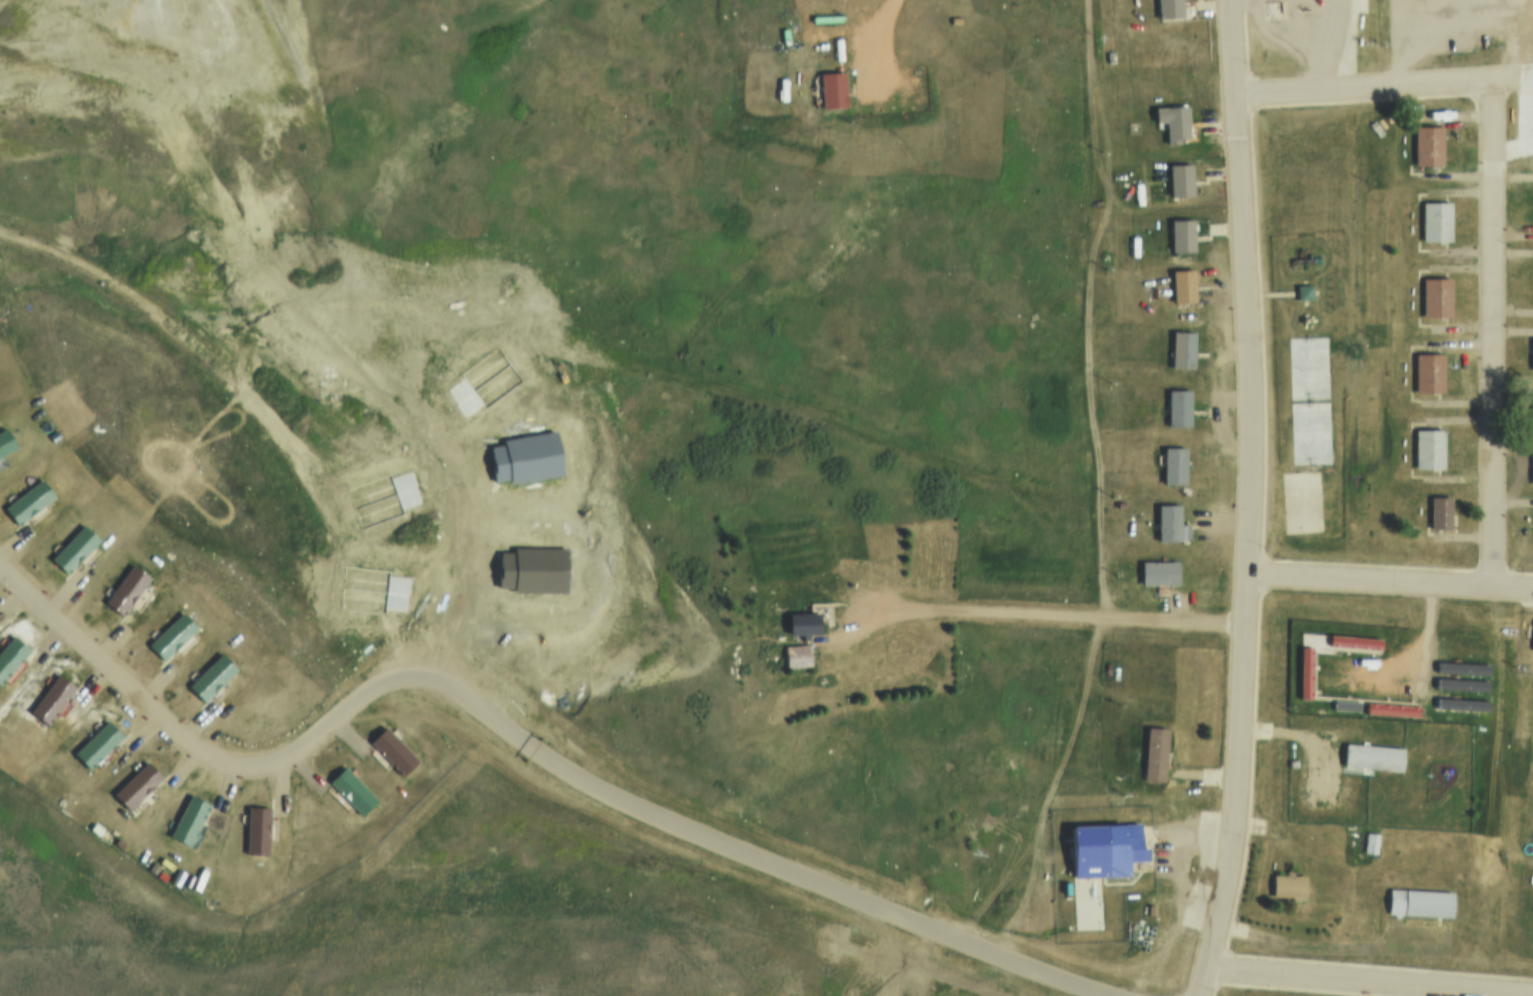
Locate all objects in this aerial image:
building: (1166, 10)
building: (830, 91)
building: (1171, 121)
building: (1426, 146)
building: (1179, 179)
road: (1493, 202)
building: (1433, 222)
building: (1180, 235)
building: (1181, 284)
road: (1241, 287)
building: (1302, 292)
building: (1433, 297)
road: (1085, 312)
park: (1328, 324)
building: (1181, 348)
building: (1530, 357)
road: (619, 368)
building: (1426, 373)
building: (487, 374)
building: (1177, 405)
building: (1530, 413)
building: (4, 442)
building: (1426, 449)
building: (524, 455)
building: (1173, 464)
building: (1530, 471)
building: (382, 494)
park: (1301, 496)
building: (27, 500)
building: (1437, 513)
building: (1169, 521)
building: (73, 549)
building: (532, 567)
building: (1158, 569)
road: (1390, 581)
building: (372, 588)
building: (125, 589)
road: (1027, 617)
building: (171, 634)
building: (802, 642)
building: (1352, 642)
building: (1532, 645)
building: (10, 654)
building: (1302, 673)
building: (1459, 674)
building: (211, 675)
building: (1451, 694)
building: (49, 700)
building: (1344, 703)
building: (1458, 704)
building: (1389, 709)
road: (528, 739)
building: (95, 746)
building: (392, 750)
building: (1153, 751)
building: (1370, 757)
building: (135, 785)
road: (1238, 788)
building: (352, 792)
building: (187, 820)
building: (254, 830)
road: (1274, 837)
building: (1368, 843)
building: (1101, 850)
building: (1286, 885)
building: (1061, 888)
building: (1417, 903)
building: (1149, 907)
road: (1174, 923)
road: (1352, 984)

